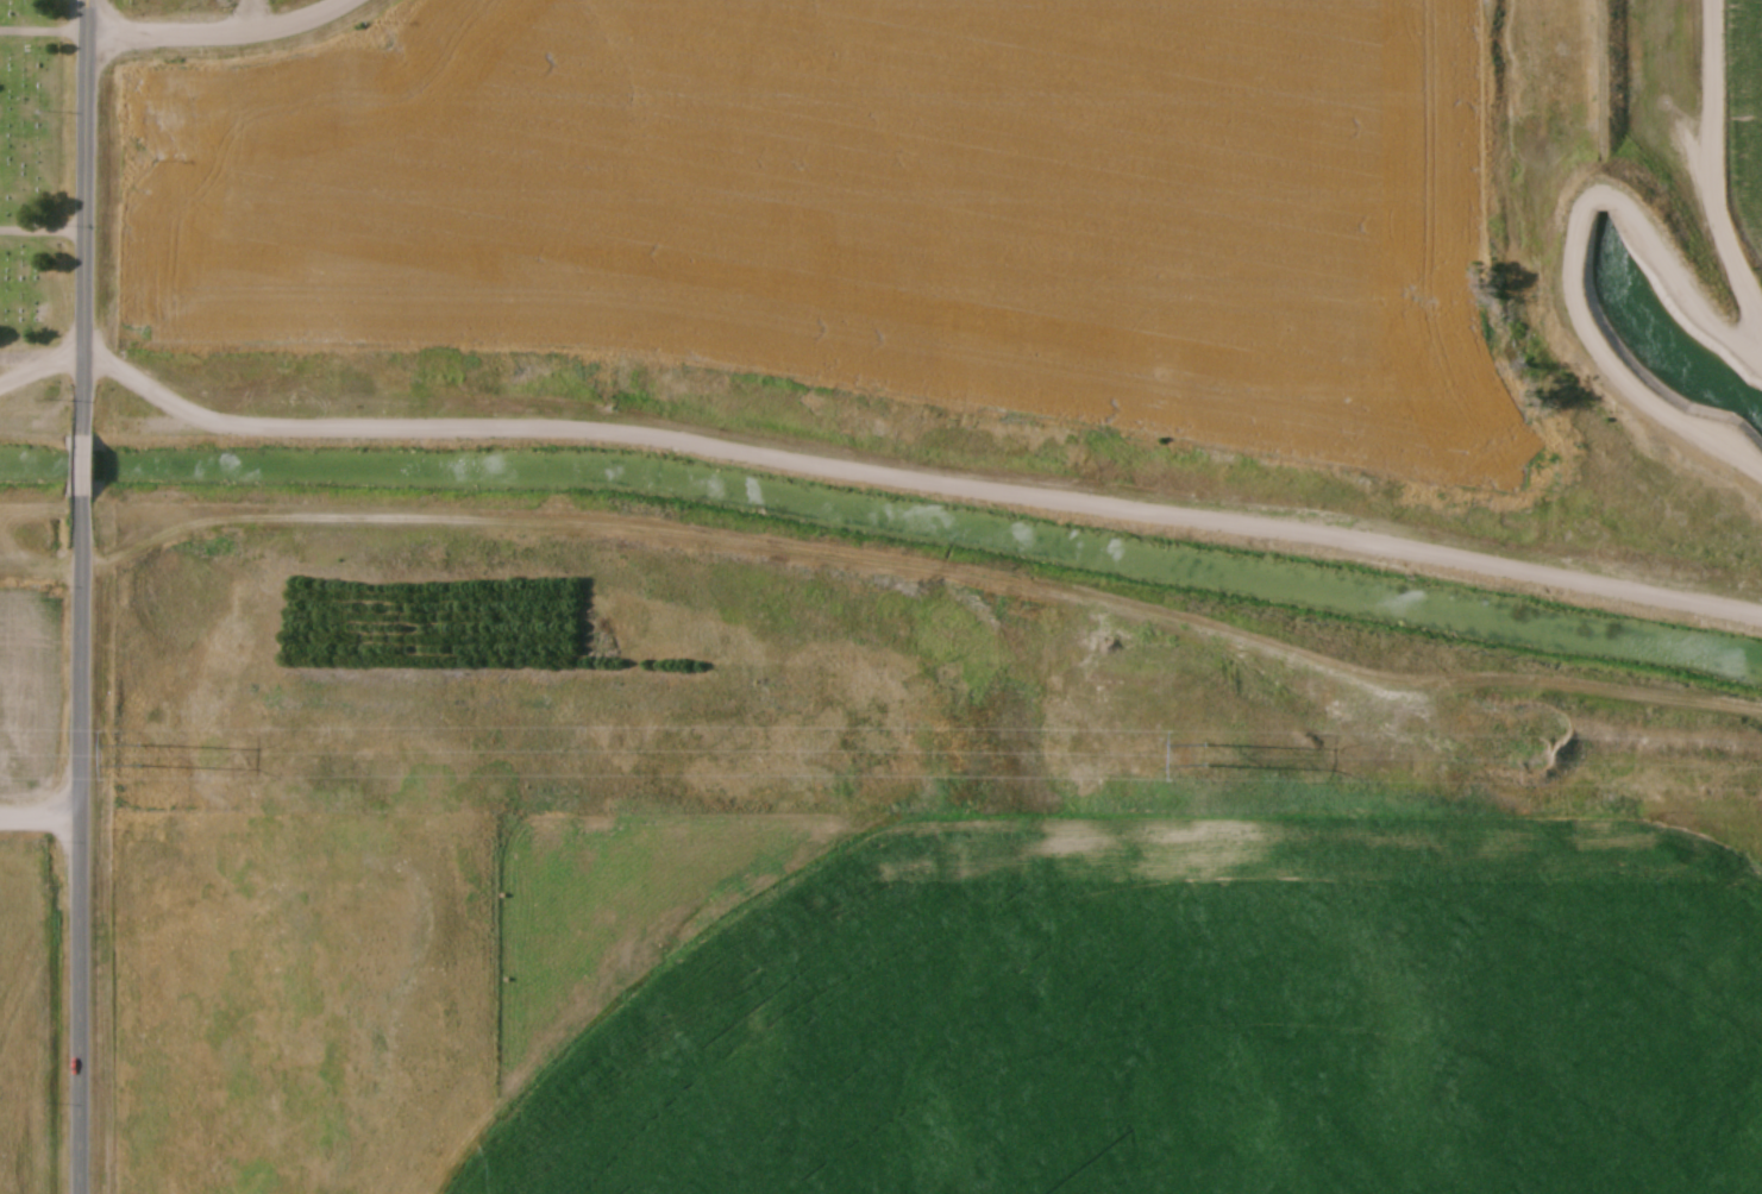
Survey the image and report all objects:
road: (222, 29)
road: (1712, 163)
park: (36, 176)
road: (88, 218)
road: (1573, 247)
road: (87, 466)
road: (871, 467)
power tower: (1208, 755)
power tower: (137, 756)
road: (40, 810)
road: (82, 846)

